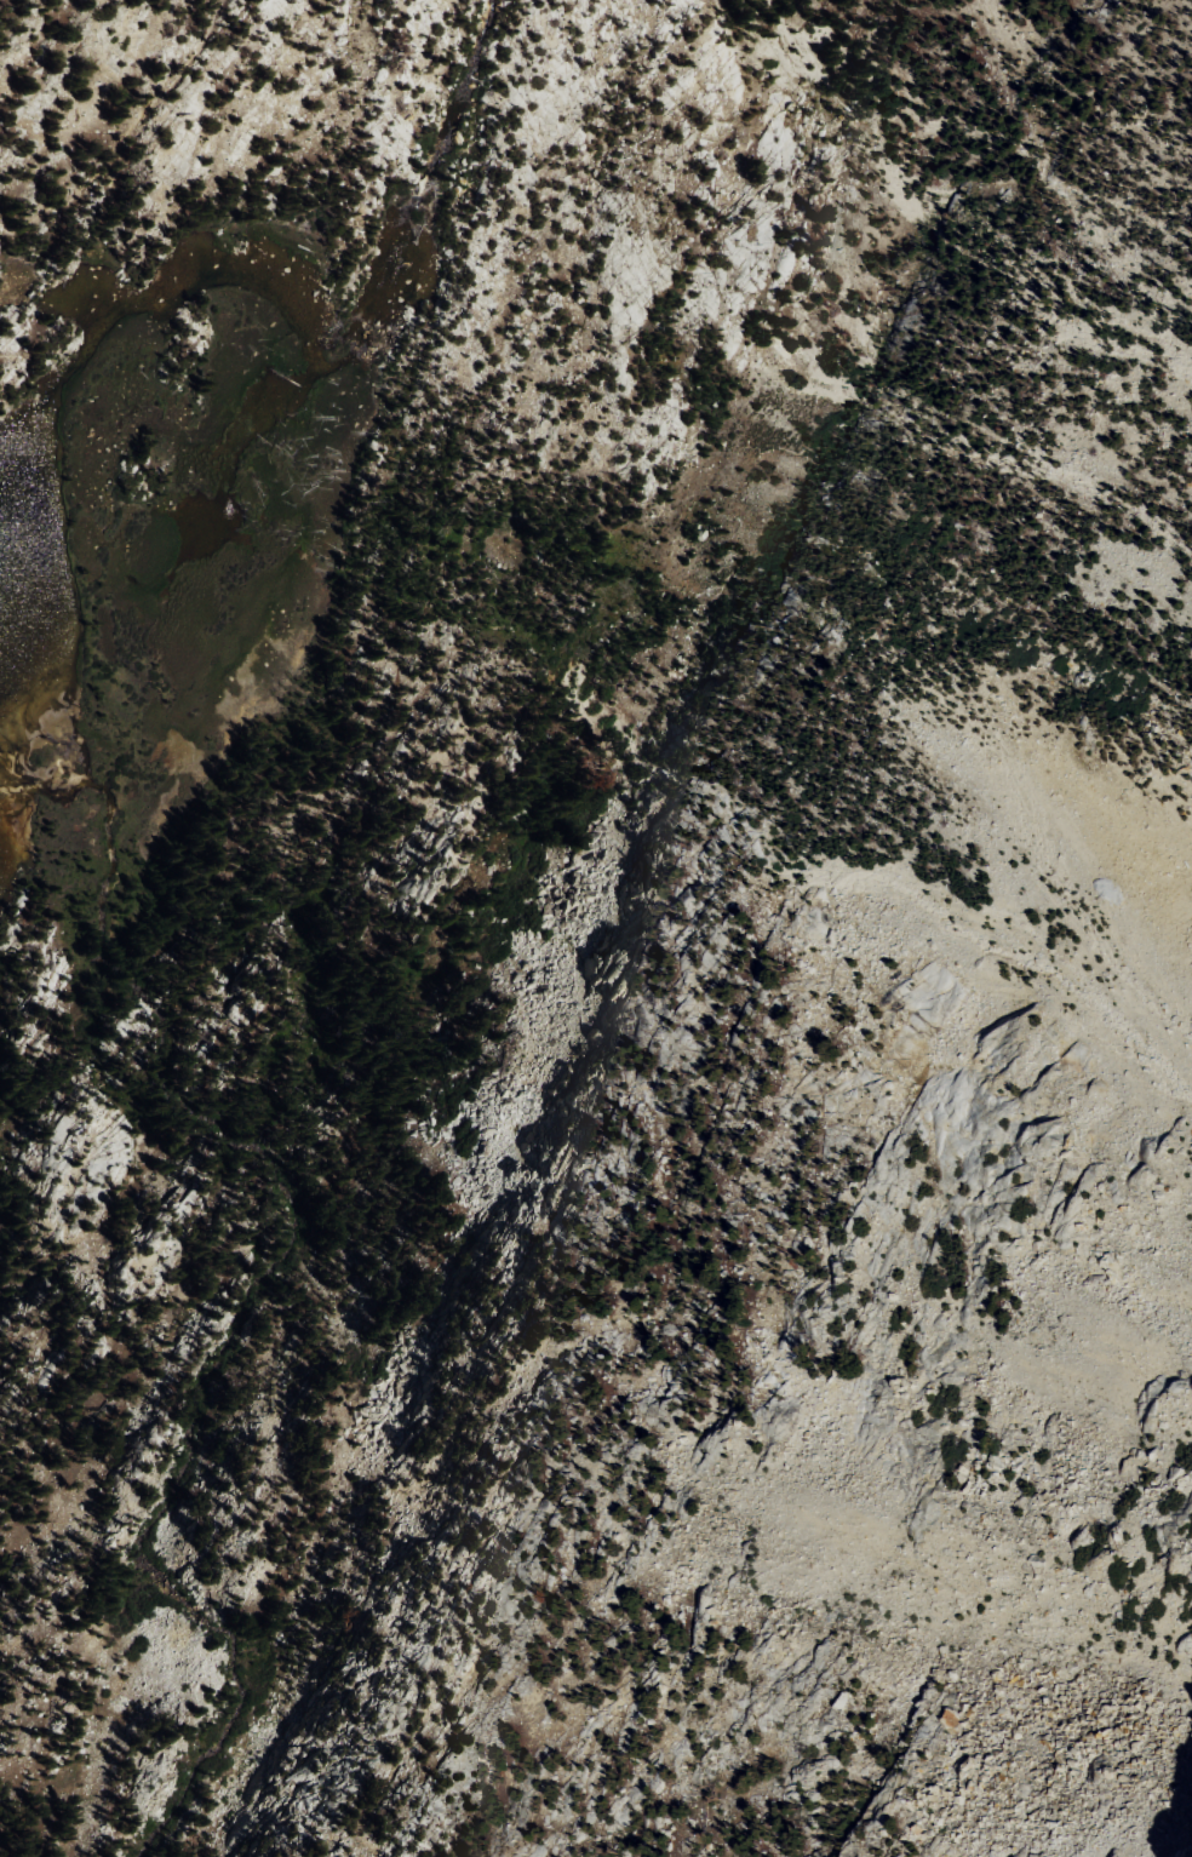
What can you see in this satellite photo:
road: (130, 138)

